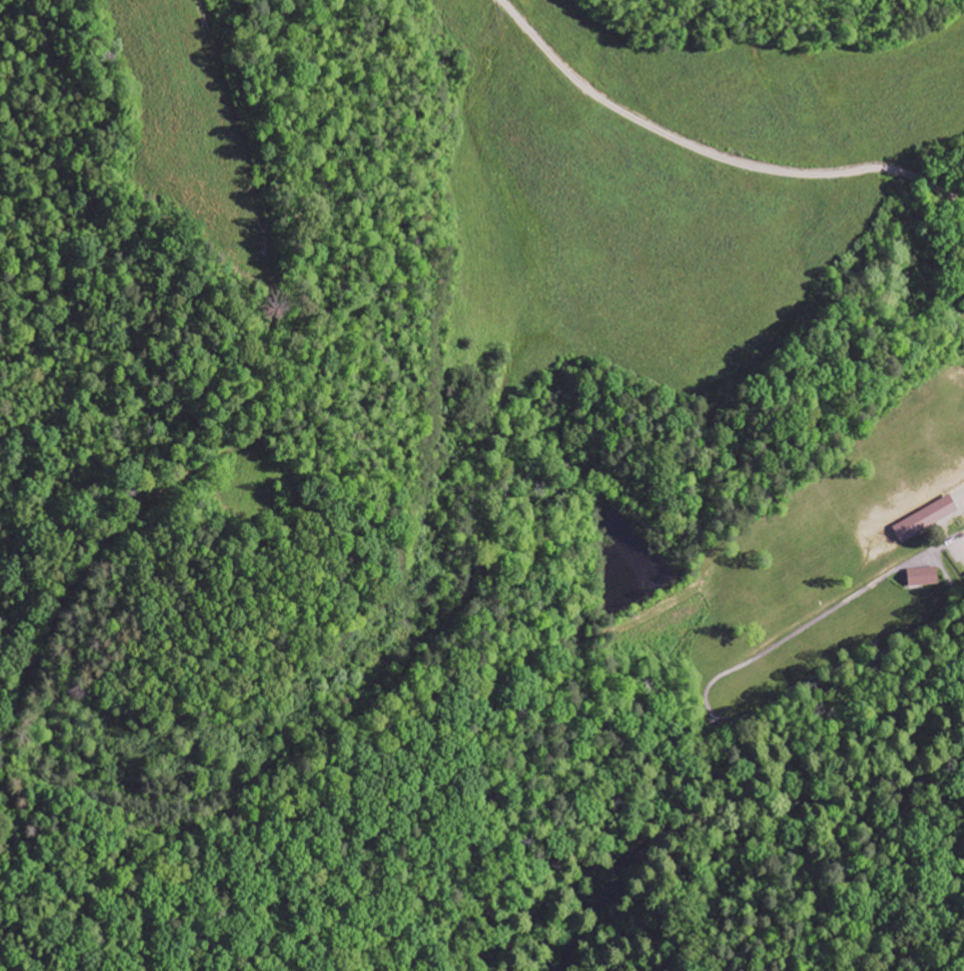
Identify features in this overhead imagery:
road: (713, 150)
road: (268, 394)
building: (927, 519)
building: (924, 577)
road: (783, 692)
park: (634, 715)
road: (522, 885)
road: (560, 947)

